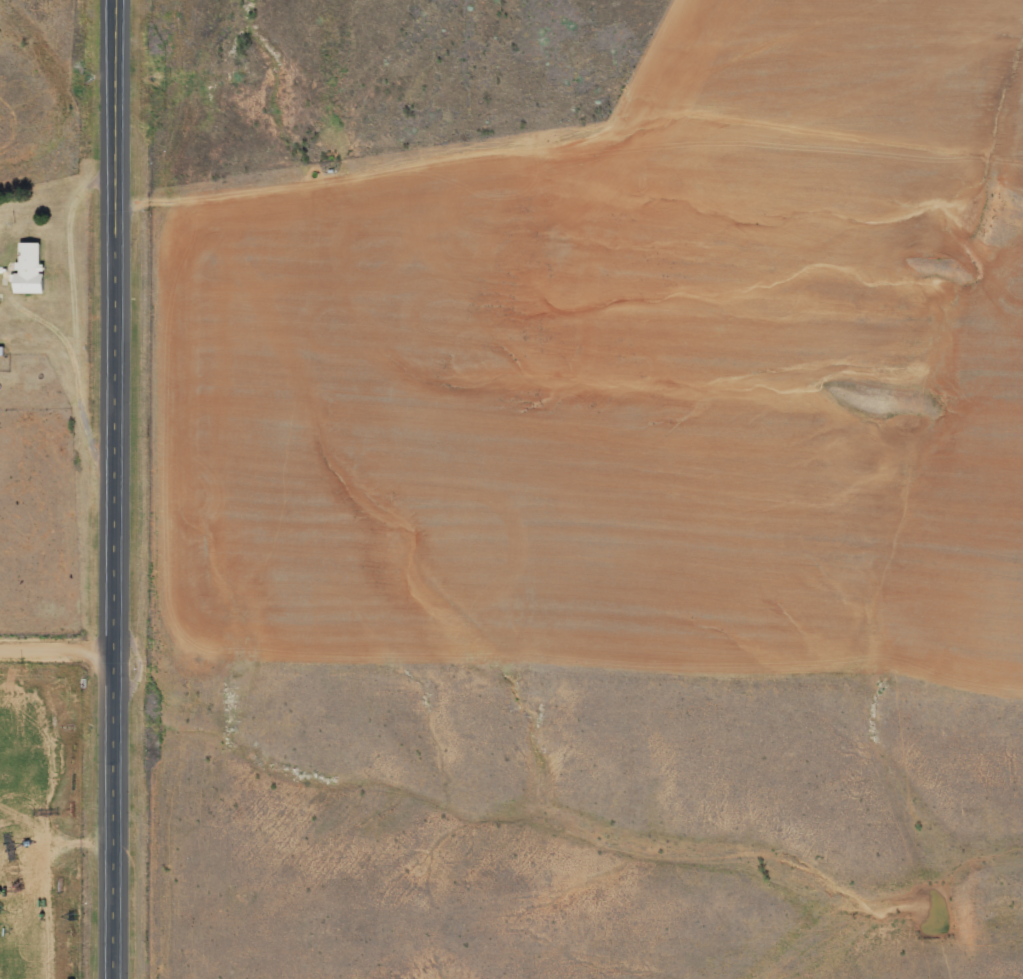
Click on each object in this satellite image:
building: (29, 270)
road: (117, 489)
road: (58, 648)

